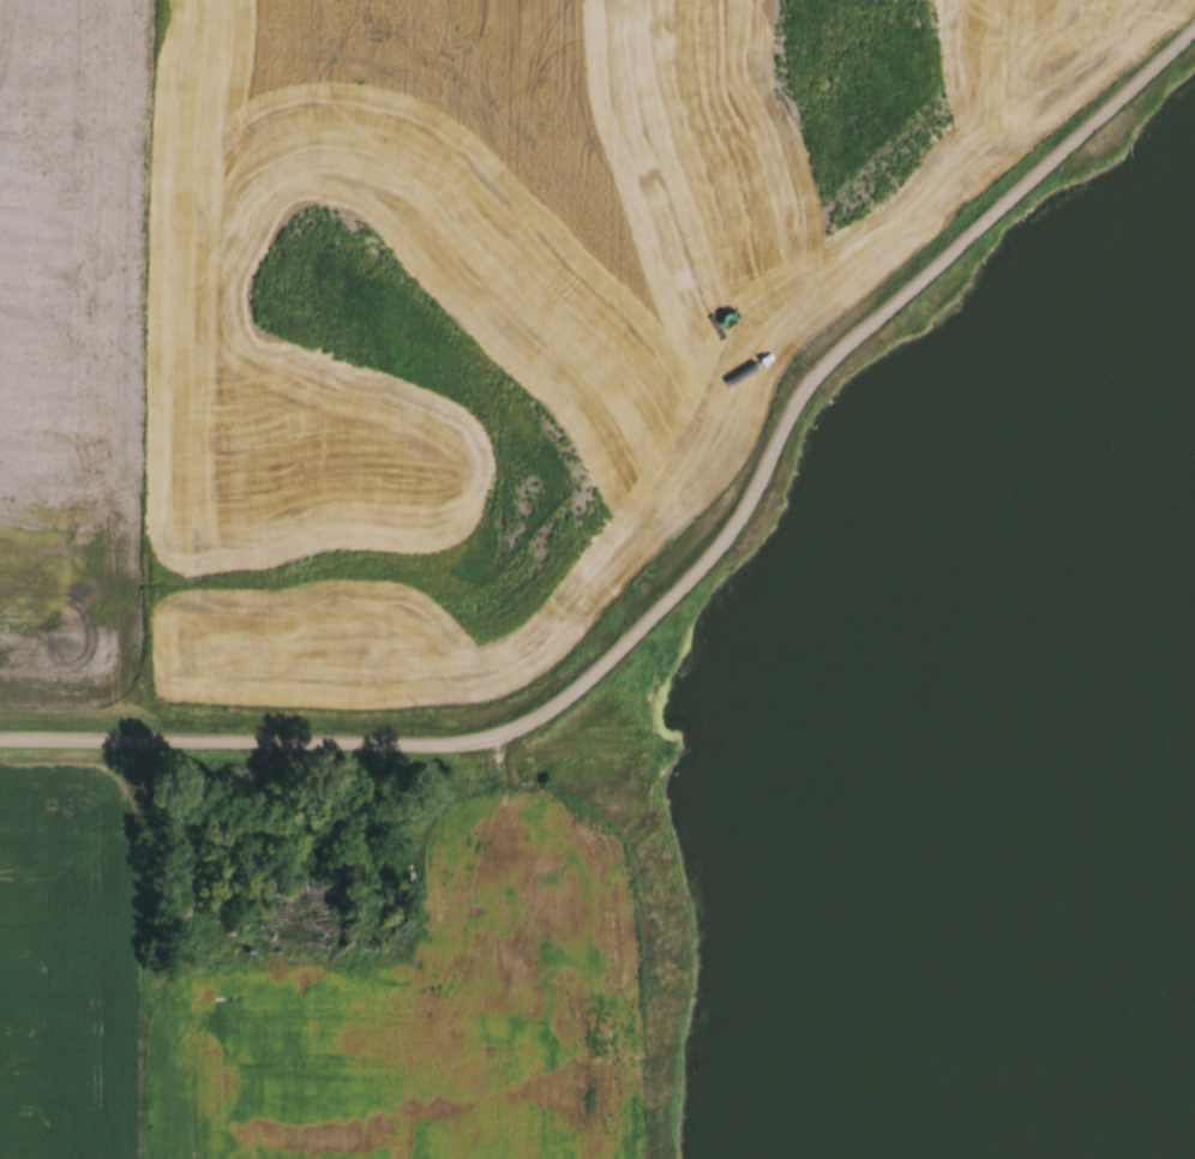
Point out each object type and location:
road: (690, 583)

